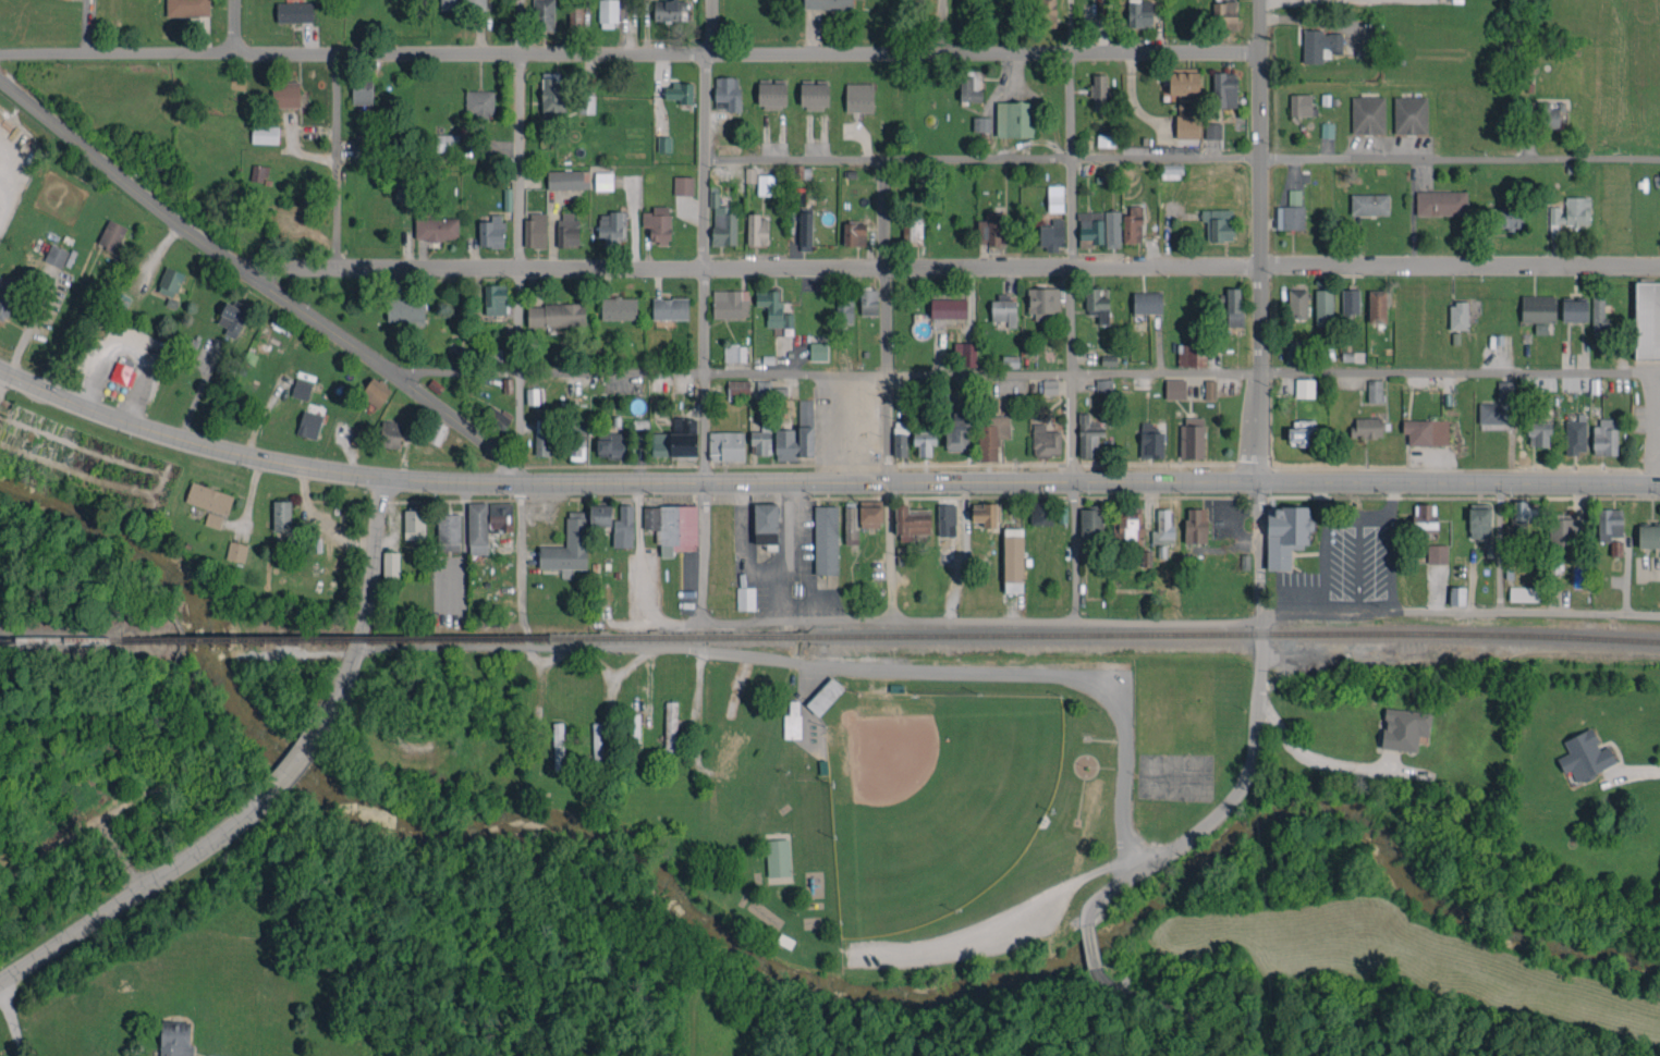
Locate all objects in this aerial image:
building: (462, 4)
building: (828, 4)
building: (187, 8)
building: (670, 10)
building: (294, 12)
building: (1047, 12)
building: (575, 13)
building: (608, 13)
building: (1139, 13)
building: (544, 14)
building: (1224, 14)
road: (940, 26)
road: (234, 27)
building: (1319, 45)
road: (630, 54)
building: (1184, 87)
building: (1224, 89)
building: (362, 90)
building: (1098, 90)
building: (679, 93)
building: (728, 93)
building: (771, 93)
building: (285, 94)
building: (814, 95)
building: (858, 97)
building: (479, 103)
building: (1302, 103)
building: (1368, 114)
building: (1409, 114)
building: (1548, 114)
building: (1015, 119)
building: (981, 123)
building: (1187, 126)
building: (1327, 130)
building: (1213, 131)
building: (265, 134)
road: (518, 134)
road: (706, 134)
building: (1106, 139)
building: (447, 143)
building: (663, 144)
building: (361, 149)
building: (724, 149)
road: (335, 160)
road: (1182, 160)
building: (1171, 171)
road: (15, 172)
building: (259, 173)
building: (1659, 173)
building: (750, 174)
building: (566, 180)
building: (603, 181)
building: (766, 184)
building: (683, 185)
road: (4, 187)
building: (403, 189)
building: (1294, 197)
building: (1055, 198)
building: (508, 199)
road: (1260, 199)
building: (1441, 202)
building: (1369, 204)
building: (1570, 213)
road: (883, 214)
building: (1503, 216)
building: (1290, 217)
building: (722, 222)
building: (657, 223)
building: (1218, 223)
building: (1133, 224)
building: (437, 228)
building: (611, 228)
building: (567, 229)
building: (991, 229)
building: (1090, 229)
building: (1112, 229)
building: (757, 230)
building: (535, 231)
building: (805, 231)
building: (491, 232)
building: (912, 232)
building: (854, 234)
building: (111, 235)
building: (1051, 235)
building: (56, 255)
road: (952, 267)
road: (1072, 267)
building: (170, 281)
road: (259, 282)
building: (8, 296)
building: (495, 299)
building: (1350, 300)
building: (868, 302)
building: (1147, 302)
building: (730, 303)
building: (1043, 303)
building: (1297, 303)
building: (1097, 305)
building: (844, 306)
building: (1234, 306)
building: (1377, 306)
building: (1323, 307)
building: (619, 308)
building: (670, 308)
building: (773, 308)
building: (949, 308)
building: (1004, 308)
building: (1538, 308)
building: (406, 309)
building: (1574, 310)
building: (1597, 312)
building: (556, 315)
building: (1458, 316)
building: (232, 319)
road: (517, 319)
building: (1647, 319)
road: (29, 320)
road: (703, 320)
building: (818, 351)
building: (734, 353)
building: (966, 353)
building: (1293, 353)
building: (1192, 355)
building: (492, 356)
building: (1109, 359)
building: (1010, 360)
road: (457, 368)
road: (1088, 372)
building: (123, 373)
road: (888, 373)
building: (1103, 385)
building: (739, 386)
building: (1050, 386)
building: (1175, 388)
building: (1305, 388)
building: (302, 389)
building: (764, 389)
building: (1210, 389)
building: (1375, 391)
building: (375, 392)
building: (532, 396)
building: (1500, 405)
building: (496, 417)
building: (309, 423)
road: (518, 426)
road: (703, 427)
building: (1366, 427)
building: (957, 431)
building: (1426, 431)
building: (1302, 432)
building: (437, 433)
building: (1538, 433)
building: (391, 434)
building: (797, 434)
building: (1088, 434)
building: (1576, 434)
building: (358, 435)
building: (991, 435)
building: (1192, 437)
building: (1604, 437)
building: (542, 438)
road: (1259, 439)
building: (676, 440)
building: (924, 440)
building: (1045, 441)
building: (1150, 441)
building: (760, 442)
building: (899, 444)
park: (449, 445)
building: (610, 445)
building: (725, 445)
road: (621, 481)
road: (1460, 481)
building: (209, 499)
road: (1391, 499)
building: (870, 513)
building: (1040, 513)
building: (985, 514)
building: (1062, 514)
building: (282, 515)
building: (600, 515)
building: (1425, 515)
building: (500, 516)
road: (1357, 516)
building: (1521, 517)
building: (213, 519)
building: (947, 519)
building: (1479, 520)
building: (765, 523)
building: (911, 523)
building: (1090, 523)
building: (414, 524)
building: (850, 524)
building: (1130, 524)
building: (1609, 524)
building: (1196, 525)
building: (623, 527)
building: (672, 527)
building: (477, 528)
building: (1163, 528)
building: (1565, 529)
building: (449, 531)
building: (1285, 535)
building: (1648, 536)
building: (826, 540)
building: (567, 547)
building: (1489, 548)
building: (236, 551)
road: (891, 551)
road: (1073, 552)
road: (699, 553)
building: (1437, 553)
building: (1013, 560)
building: (391, 564)
road: (518, 564)
road: (1391, 564)
road: (1358, 566)
road: (1326, 569)
building: (1524, 593)
building: (1457, 595)
building: (745, 598)
road: (1176, 625)
railway: (1235, 634)
railway: (467, 638)
railway: (61, 639)
road: (826, 667)
building: (825, 696)
park: (1192, 710)
park: (1157, 711)
building: (792, 721)
building: (671, 728)
building: (1404, 728)
building: (634, 729)
road: (1255, 739)
building: (558, 746)
building: (598, 746)
building: (1585, 756)
road: (1326, 765)
road: (1641, 769)
park: (1173, 776)
road: (274, 786)
park: (932, 799)
park: (977, 799)
building: (778, 858)
road: (990, 930)
road: (1093, 948)
road: (1183, 1011)
road: (12, 1020)
building: (175, 1037)

